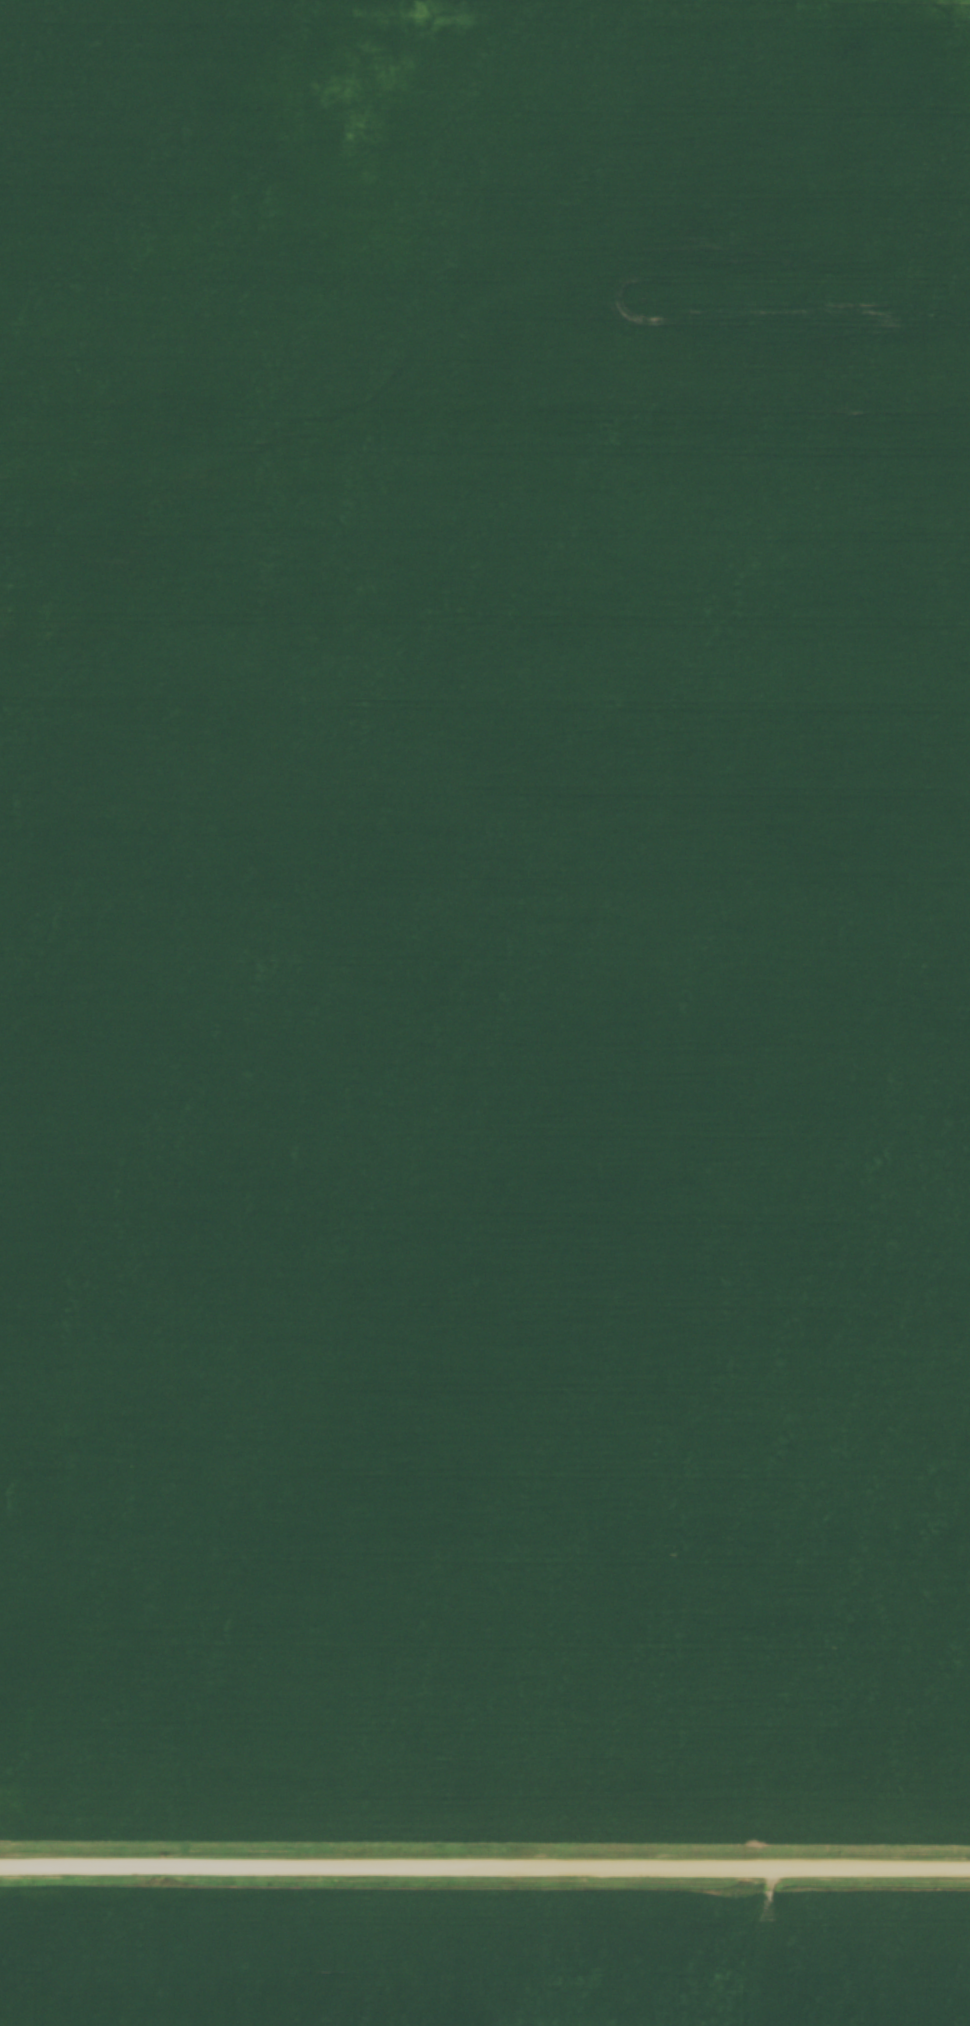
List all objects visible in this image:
road: (484, 1868)

